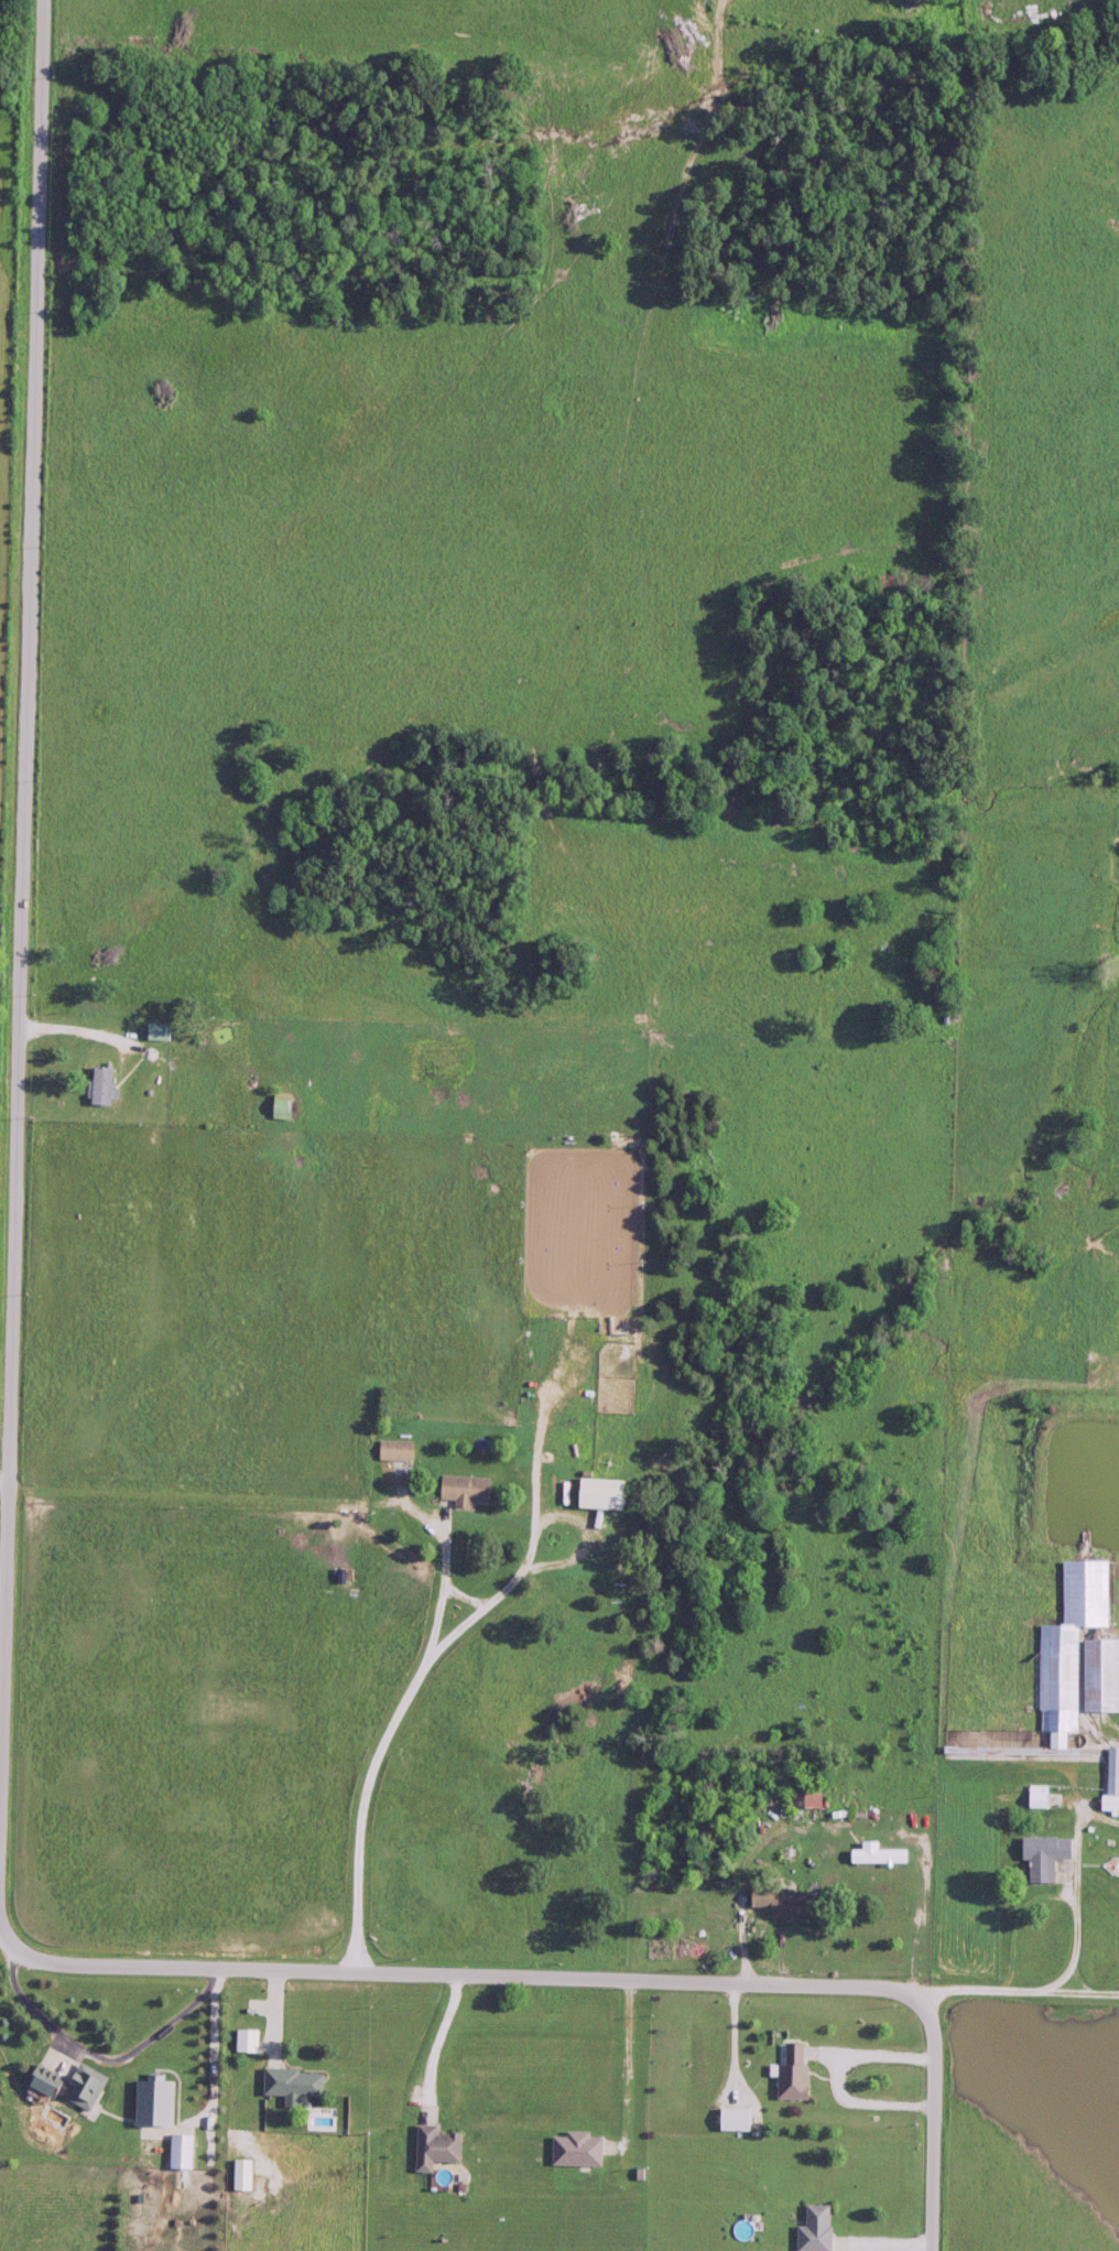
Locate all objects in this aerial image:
road: (24, 929)
building: (154, 1032)
road: (115, 1033)
building: (97, 1086)
building: (279, 1107)
building: (392, 1451)
building: (460, 1491)
building: (595, 1495)
road: (241, 1500)
road: (487, 1597)
building: (1098, 1664)
road: (379, 1744)
building: (1108, 1781)
building: (802, 1794)
building: (1033, 1796)
building: (873, 1853)
building: (1037, 1855)
road: (1054, 1898)
building: (774, 1903)
road: (3, 1925)
road: (468, 1977)
road: (1020, 1992)
road: (40, 2013)
building: (241, 2041)
road: (438, 2053)
building: (787, 2073)
building: (37, 2080)
building: (283, 2081)
building: (79, 2087)
building: (148, 2101)
building: (729, 2120)
road: (934, 2128)
building: (430, 2147)
building: (573, 2150)
building: (175, 2151)
building: (237, 2175)
building: (812, 2229)

